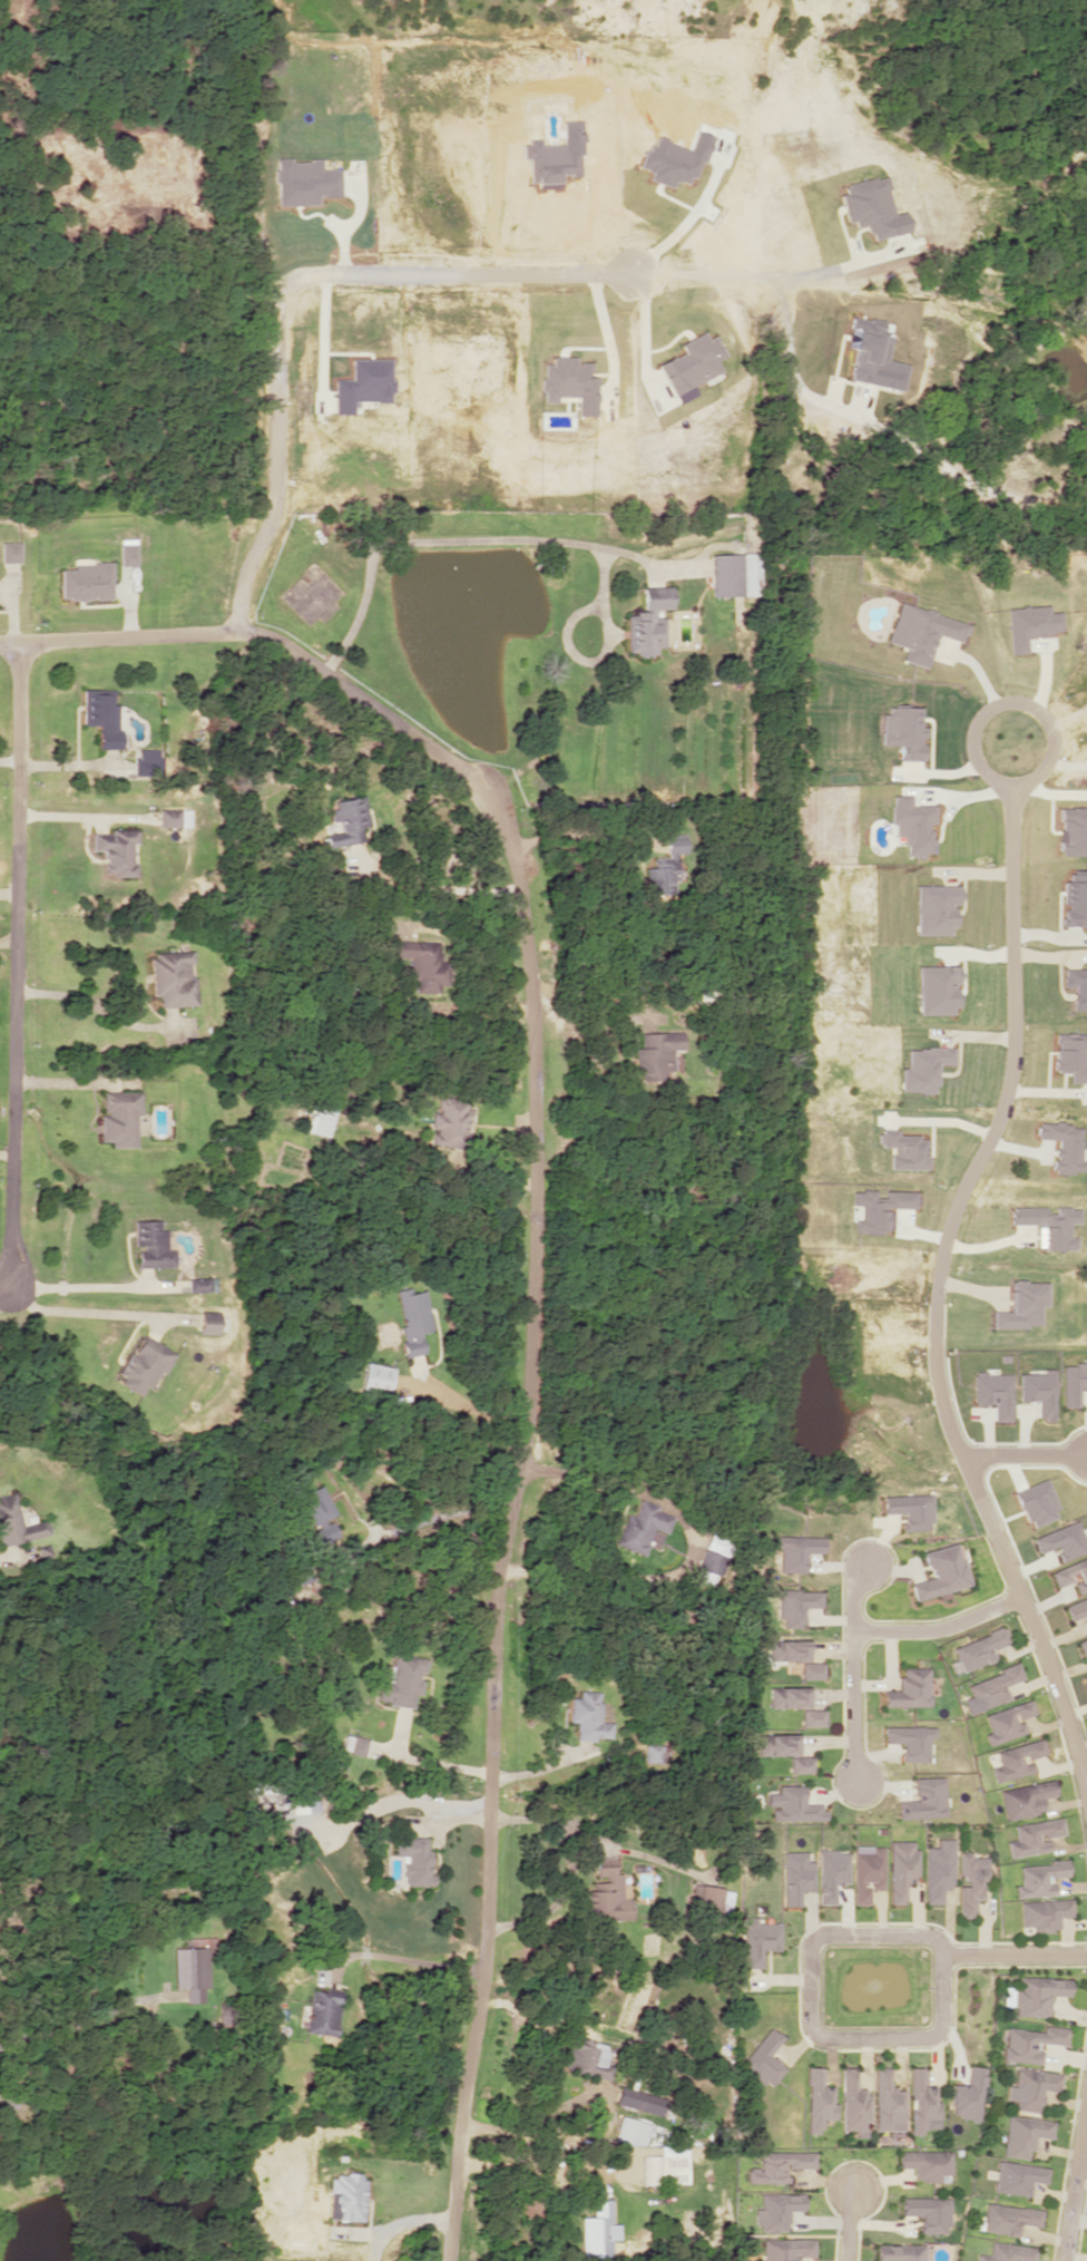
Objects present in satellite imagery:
building: (303, 182)
road: (286, 293)
building: (361, 384)
building: (9, 552)
building: (126, 554)
building: (734, 574)
building: (86, 581)
building: (648, 621)
building: (921, 631)
road: (1008, 706)
building: (101, 715)
building: (902, 731)
building: (175, 817)
building: (346, 820)
building: (116, 850)
building: (664, 866)
building: (1075, 898)
building: (420, 963)
road: (18, 966)
building: (173, 977)
building: (655, 1053)
building: (1070, 1055)
building: (118, 1117)
road: (526, 1120)
building: (319, 1121)
building: (449, 1123)
building: (1062, 1146)
building: (903, 1149)
building: (1049, 1225)
building: (151, 1244)
building: (200, 1284)
road: (936, 1303)
building: (412, 1318)
building: (207, 1326)
building: (144, 1364)
building: (375, 1376)
building: (1073, 1382)
building: (1039, 1391)
building: (995, 1392)
road: (1026, 1458)
building: (908, 1509)
building: (315, 1513)
building: (16, 1522)
building: (642, 1527)
building: (1061, 1540)
building: (717, 1543)
building: (795, 1551)
road: (8, 1557)
building: (707, 1566)
building: (940, 1571)
building: (1071, 1573)
building: (796, 1605)
building: (1077, 1608)
road: (940, 1630)
building: (1083, 1647)
building: (978, 1648)
building: (786, 1649)
building: (812, 1669)
road: (853, 1672)
building: (401, 1680)
building: (993, 1686)
building: (910, 1688)
building: (786, 1697)
building: (587, 1716)
building: (811, 1717)
building: (1007, 1721)
building: (911, 1741)
building: (353, 1744)
building: (775, 1744)
building: (654, 1752)
building: (1017, 1758)
building: (800, 1763)
building: (303, 1796)
building: (924, 1799)
building: (1025, 1799)
building: (793, 1804)
building: (1034, 1836)
building: (413, 1860)
building: (900, 1868)
building: (937, 1870)
building: (866, 1871)
building: (831, 1873)
building: (795, 1875)
building: (1039, 1878)
building: (970, 1882)
building: (606, 1895)
building: (711, 1900)
building: (1044, 1913)
building: (758, 1940)
road: (1013, 1956)
building: (189, 1972)
building: (1036, 1994)
building: (322, 2011)
road: (814, 2017)
building: (1029, 2043)
building: (586, 2058)
building: (763, 2058)
building: (1030, 2087)
building: (968, 2094)
building: (816, 2099)
building: (851, 2101)
building: (885, 2101)
building: (921, 2102)
building: (640, 2103)
road: (458, 2124)
building: (629, 2131)
building: (1022, 2134)
building: (924, 2163)
building: (664, 2165)
building: (777, 2165)
building: (1017, 2176)
road: (1075, 2185)
building: (344, 2196)
building: (775, 2210)
building: (928, 2212)
building: (1008, 2218)
road: (850, 2223)
building: (597, 2230)
building: (785, 2249)
building: (900, 2252)
building: (1008, 2252)

